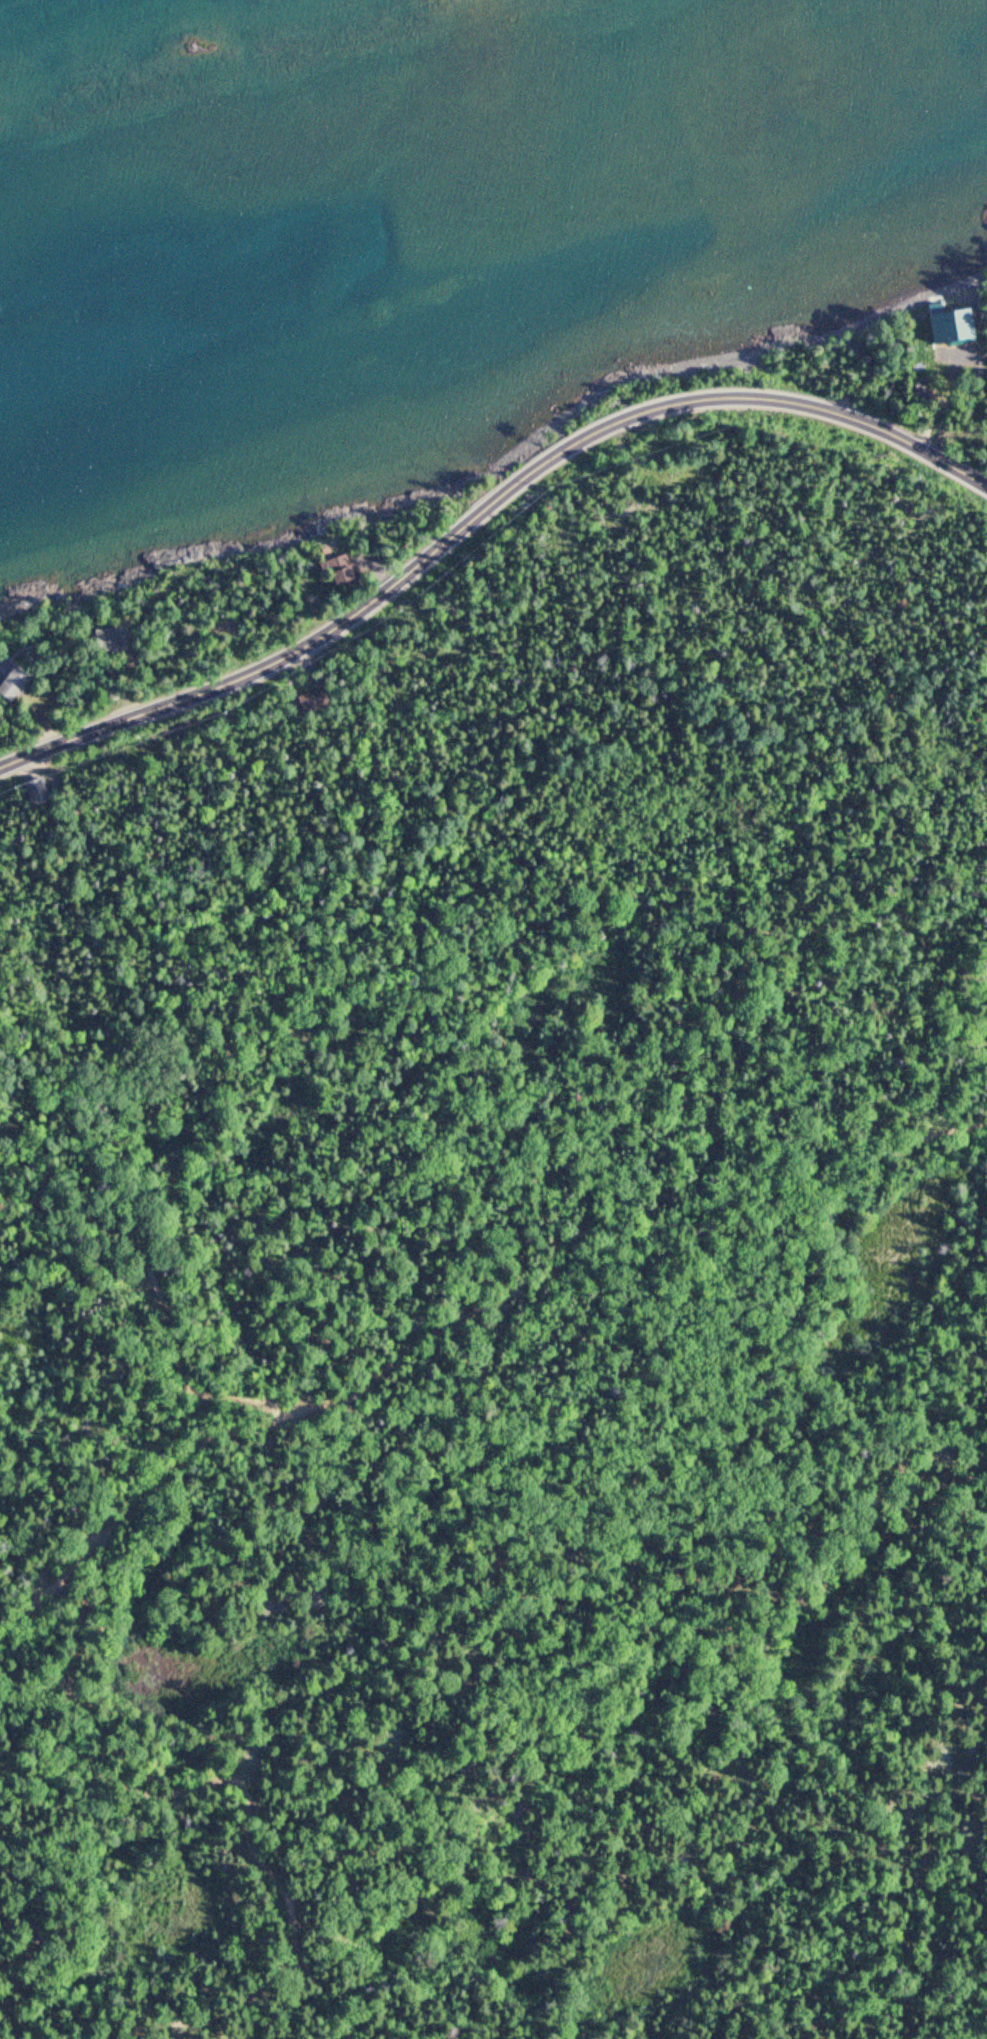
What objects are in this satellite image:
building: (959, 330)
road: (951, 399)
road: (488, 504)
building: (22, 686)

